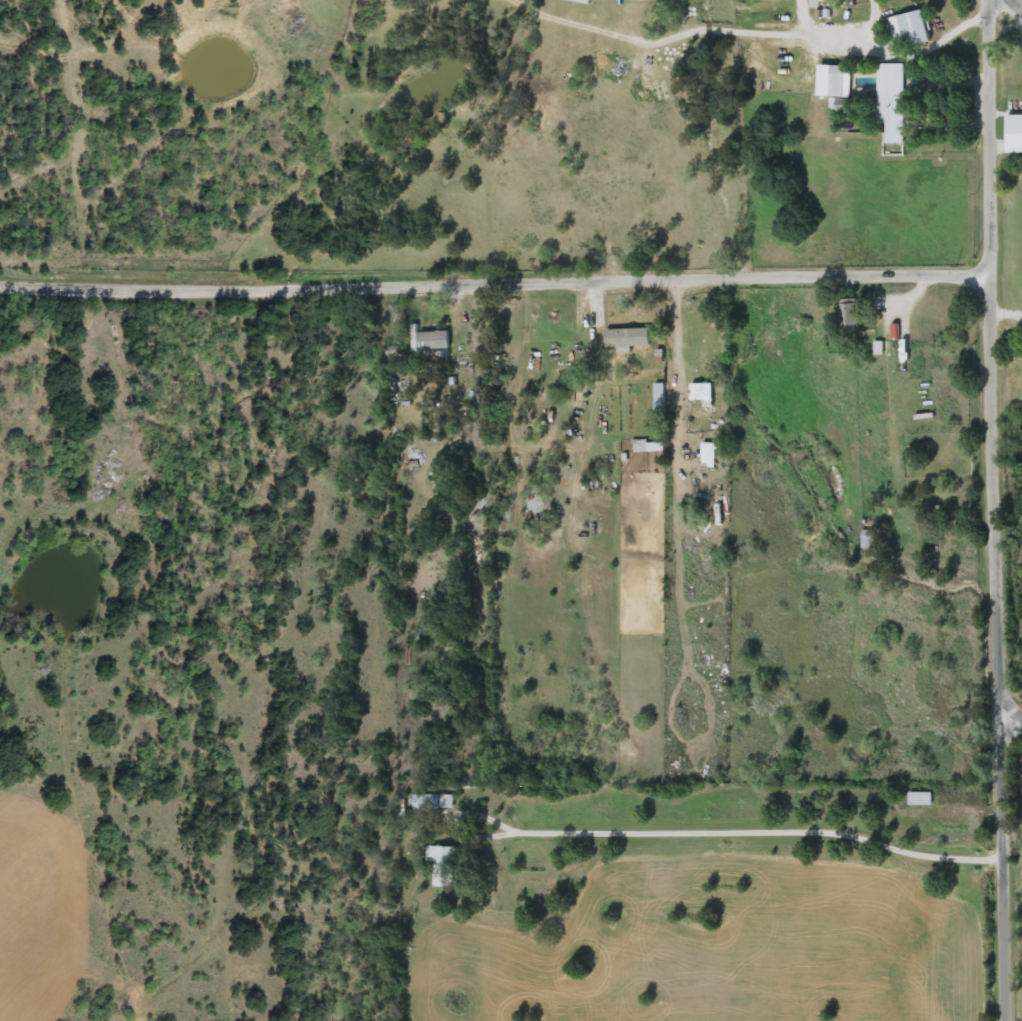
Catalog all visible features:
building: (583, 1)
road: (1020, 1)
building: (820, 2)
building: (845, 2)
building: (907, 29)
road: (854, 38)
road: (690, 39)
building: (838, 87)
building: (889, 106)
building: (1013, 134)
road: (605, 218)
road: (494, 283)
road: (1005, 314)
building: (847, 315)
road: (529, 318)
building: (626, 338)
building: (430, 341)
building: (700, 392)
building: (657, 396)
road: (514, 410)
building: (648, 447)
building: (707, 454)
road: (677, 497)
road: (991, 510)
building: (867, 539)
road: (1010, 727)
building: (919, 799)
building: (432, 802)
road: (968, 808)
road: (759, 830)
building: (442, 865)

